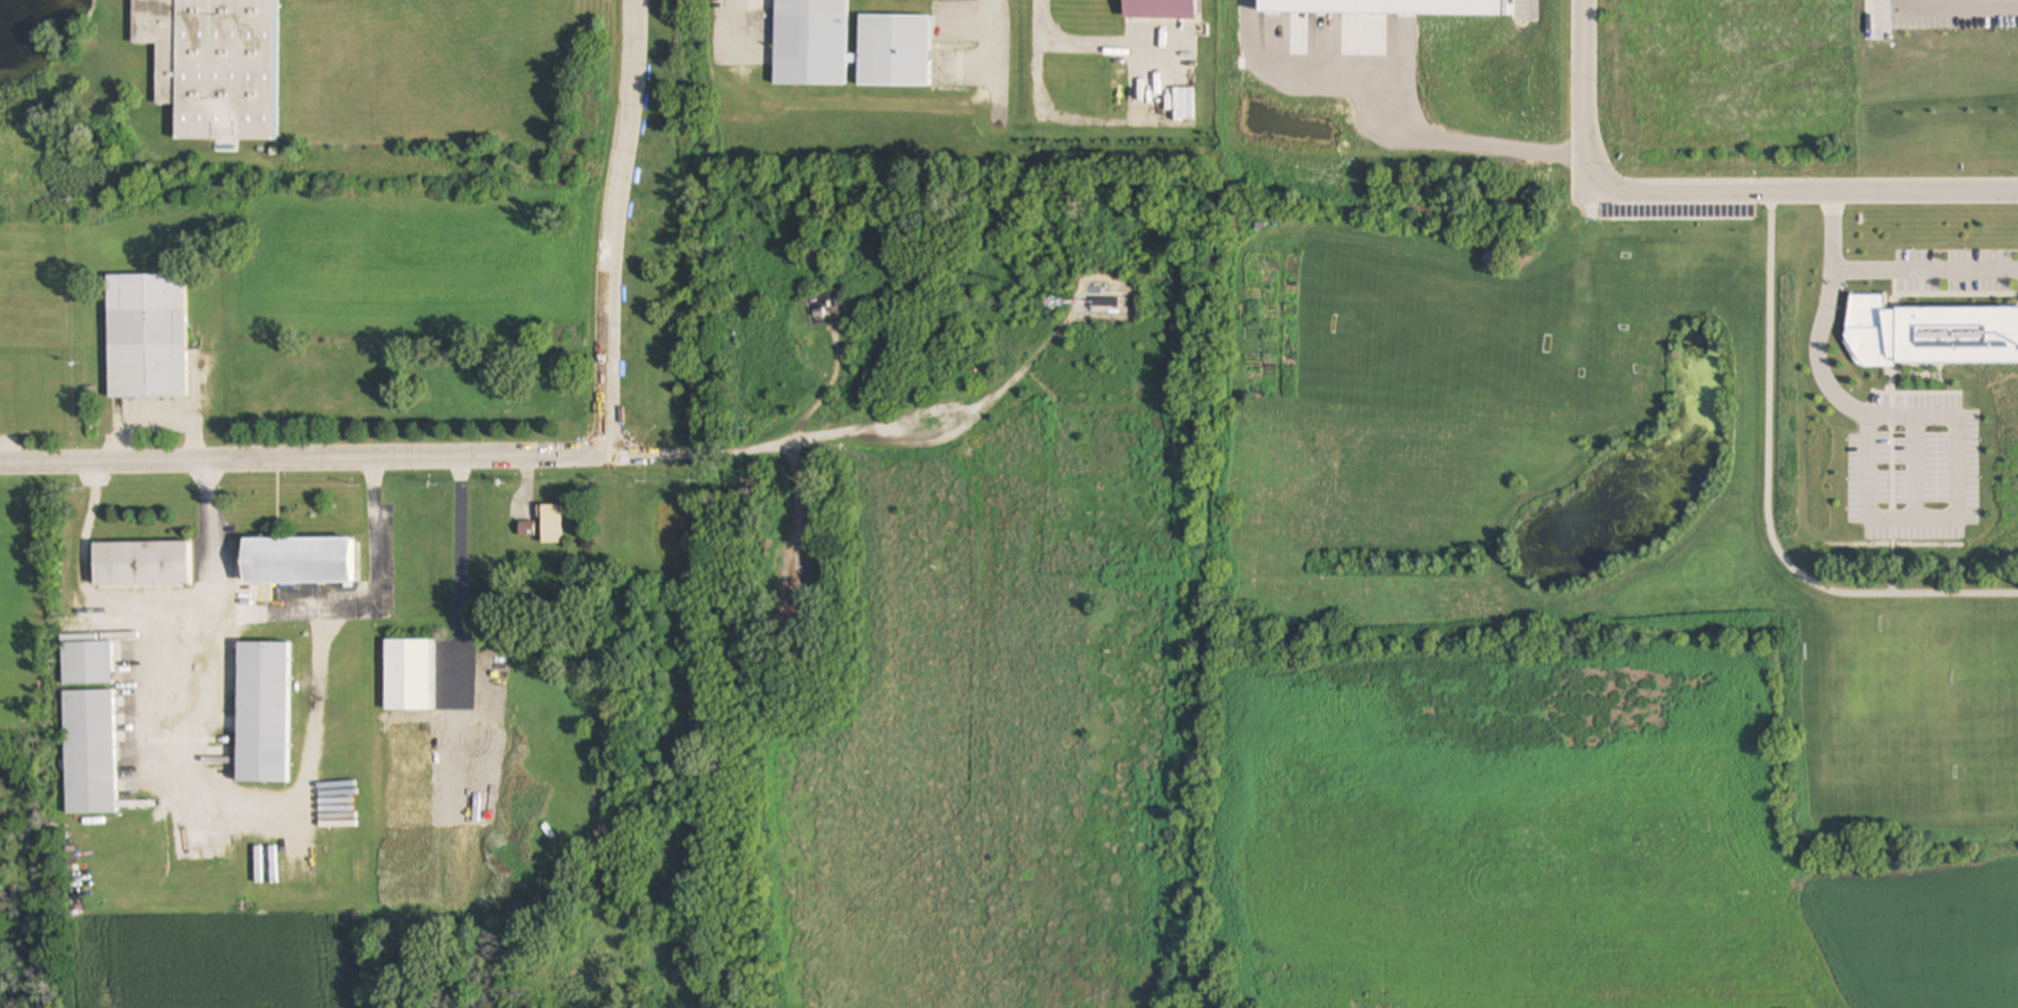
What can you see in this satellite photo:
road: (1527, 7)
road: (1946, 8)
building: (1159, 10)
road: (738, 29)
building: (811, 34)
road: (986, 41)
road: (1091, 46)
building: (214, 65)
road: (1388, 113)
road: (1599, 175)
road: (1895, 193)
road: (614, 226)
road: (1885, 272)
building: (1106, 303)
building: (1931, 334)
road: (1812, 335)
building: (146, 336)
road: (545, 454)
road: (1767, 500)
building: (552, 525)
building: (526, 532)
building: (298, 561)
building: (139, 563)
road: (461, 573)
road: (215, 578)
road: (363, 608)
crop: (25, 609)
park: (1562, 633)
building: (86, 664)
building: (407, 675)
building: (262, 713)
building: (88, 752)
road: (244, 815)

